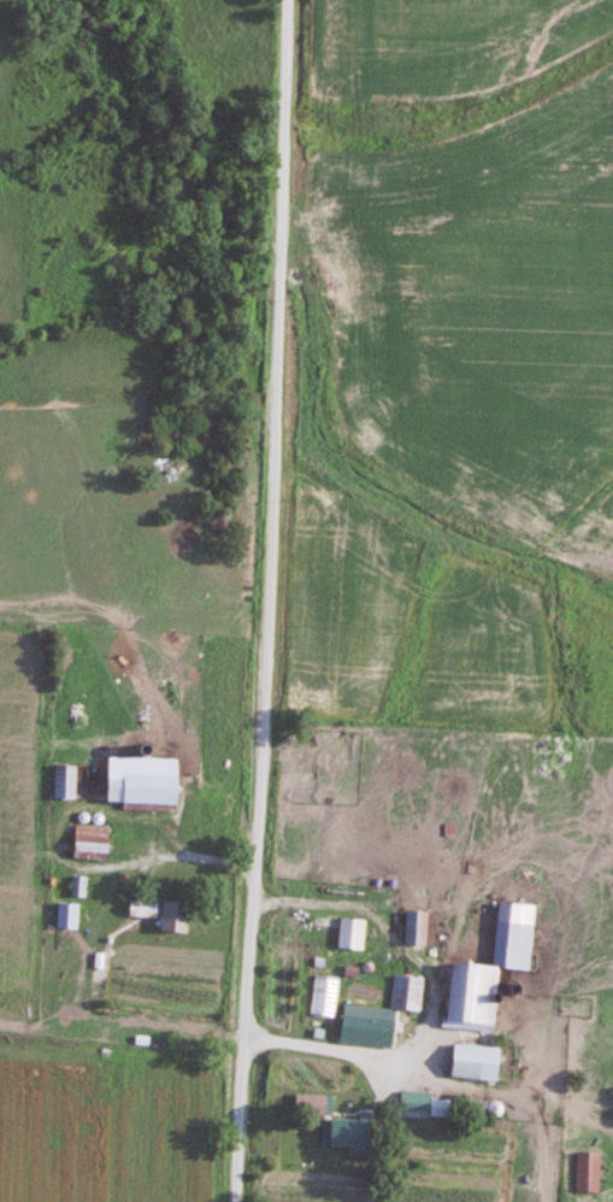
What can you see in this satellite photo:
road: (271, 600)
building: (65, 782)
building: (141, 791)
building: (90, 843)
building: (142, 910)
building: (66, 916)
building: (172, 917)
building: (415, 928)
building: (352, 934)
building: (490, 971)
building: (407, 993)
road: (153, 1027)
building: (370, 1033)
building: (475, 1063)
building: (415, 1104)
building: (336, 1118)
building: (588, 1172)

